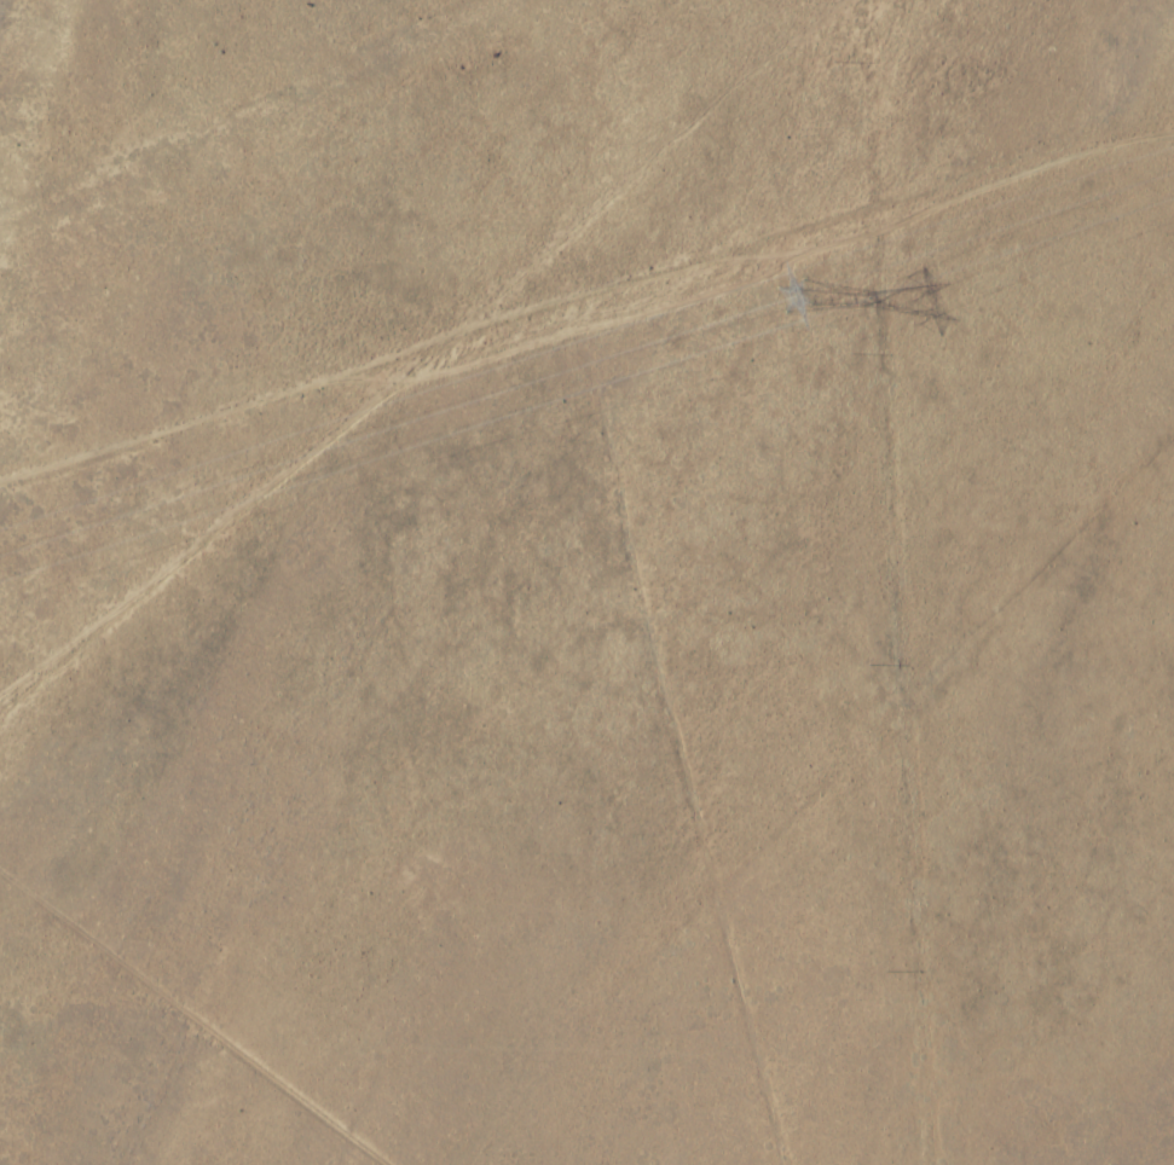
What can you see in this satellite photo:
road: (588, 283)
power tower: (812, 296)
road: (694, 723)
road: (819, 810)
road: (179, 1002)

